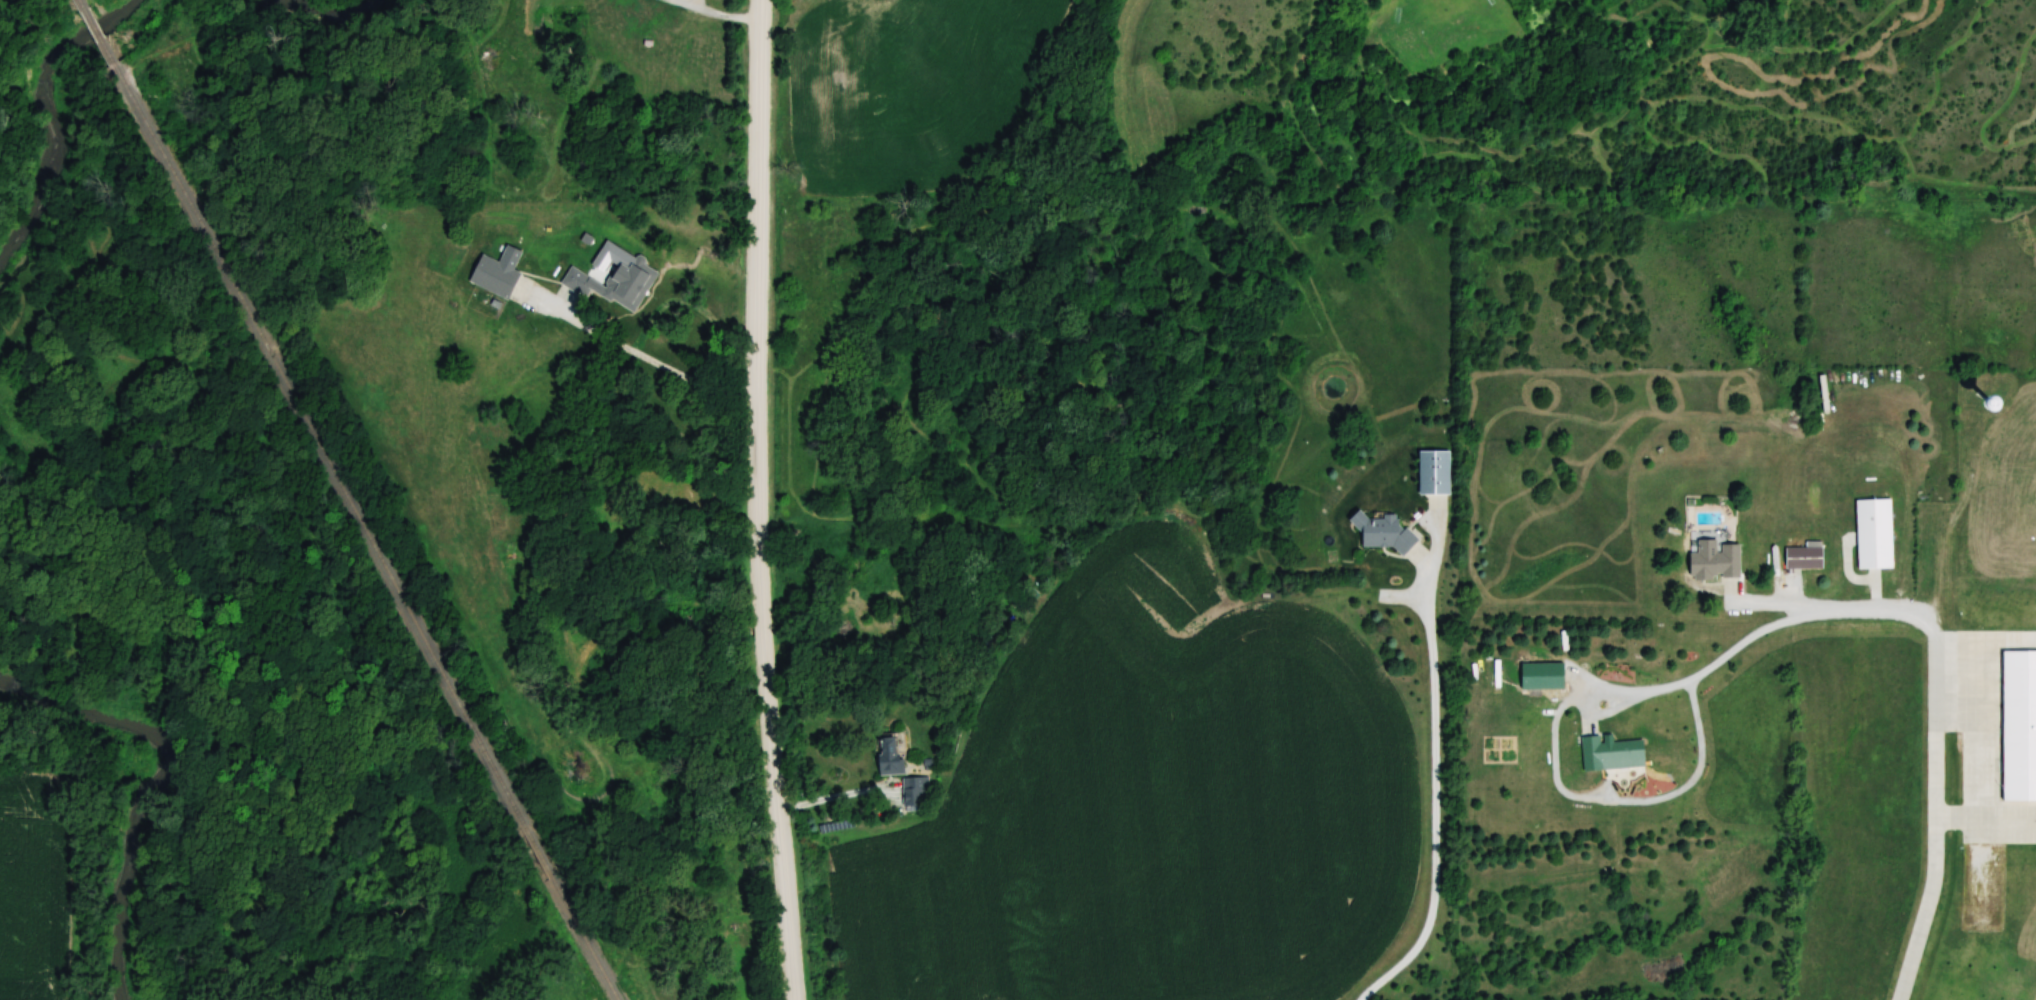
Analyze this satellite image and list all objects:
railway: (82, 1)
road: (712, 13)
river: (332, 20)
railway: (101, 36)
river: (54, 118)
road: (759, 196)
building: (501, 280)
building: (617, 281)
road: (655, 362)
building: (1436, 473)
building: (1383, 533)
railway: (366, 535)
building: (1801, 557)
building: (1716, 561)
road: (1765, 604)
road: (1923, 620)
road: (769, 696)
road: (1580, 696)
building: (2017, 725)
building: (891, 756)
river: (158, 785)
road: (1436, 790)
building: (915, 791)
road: (838, 797)
road: (1936, 818)

